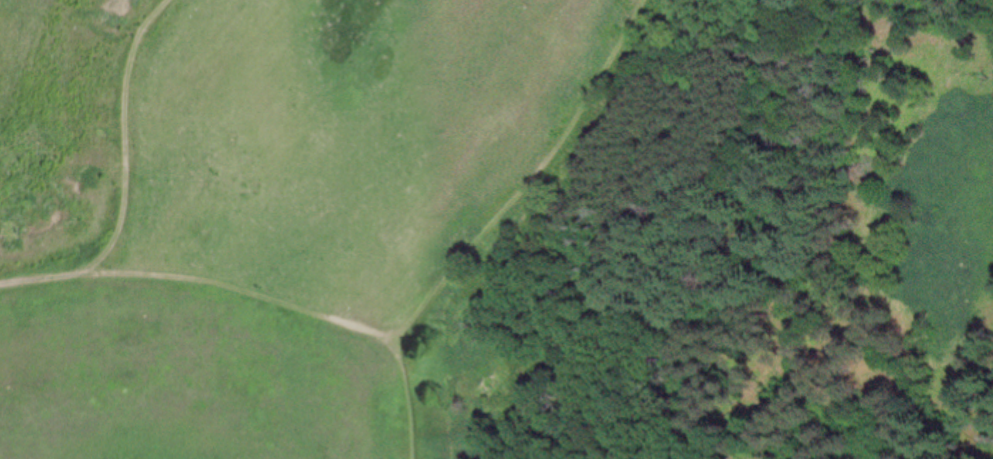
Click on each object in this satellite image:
road: (123, 140)
road: (532, 176)
road: (38, 278)
road: (244, 289)
road: (411, 399)

